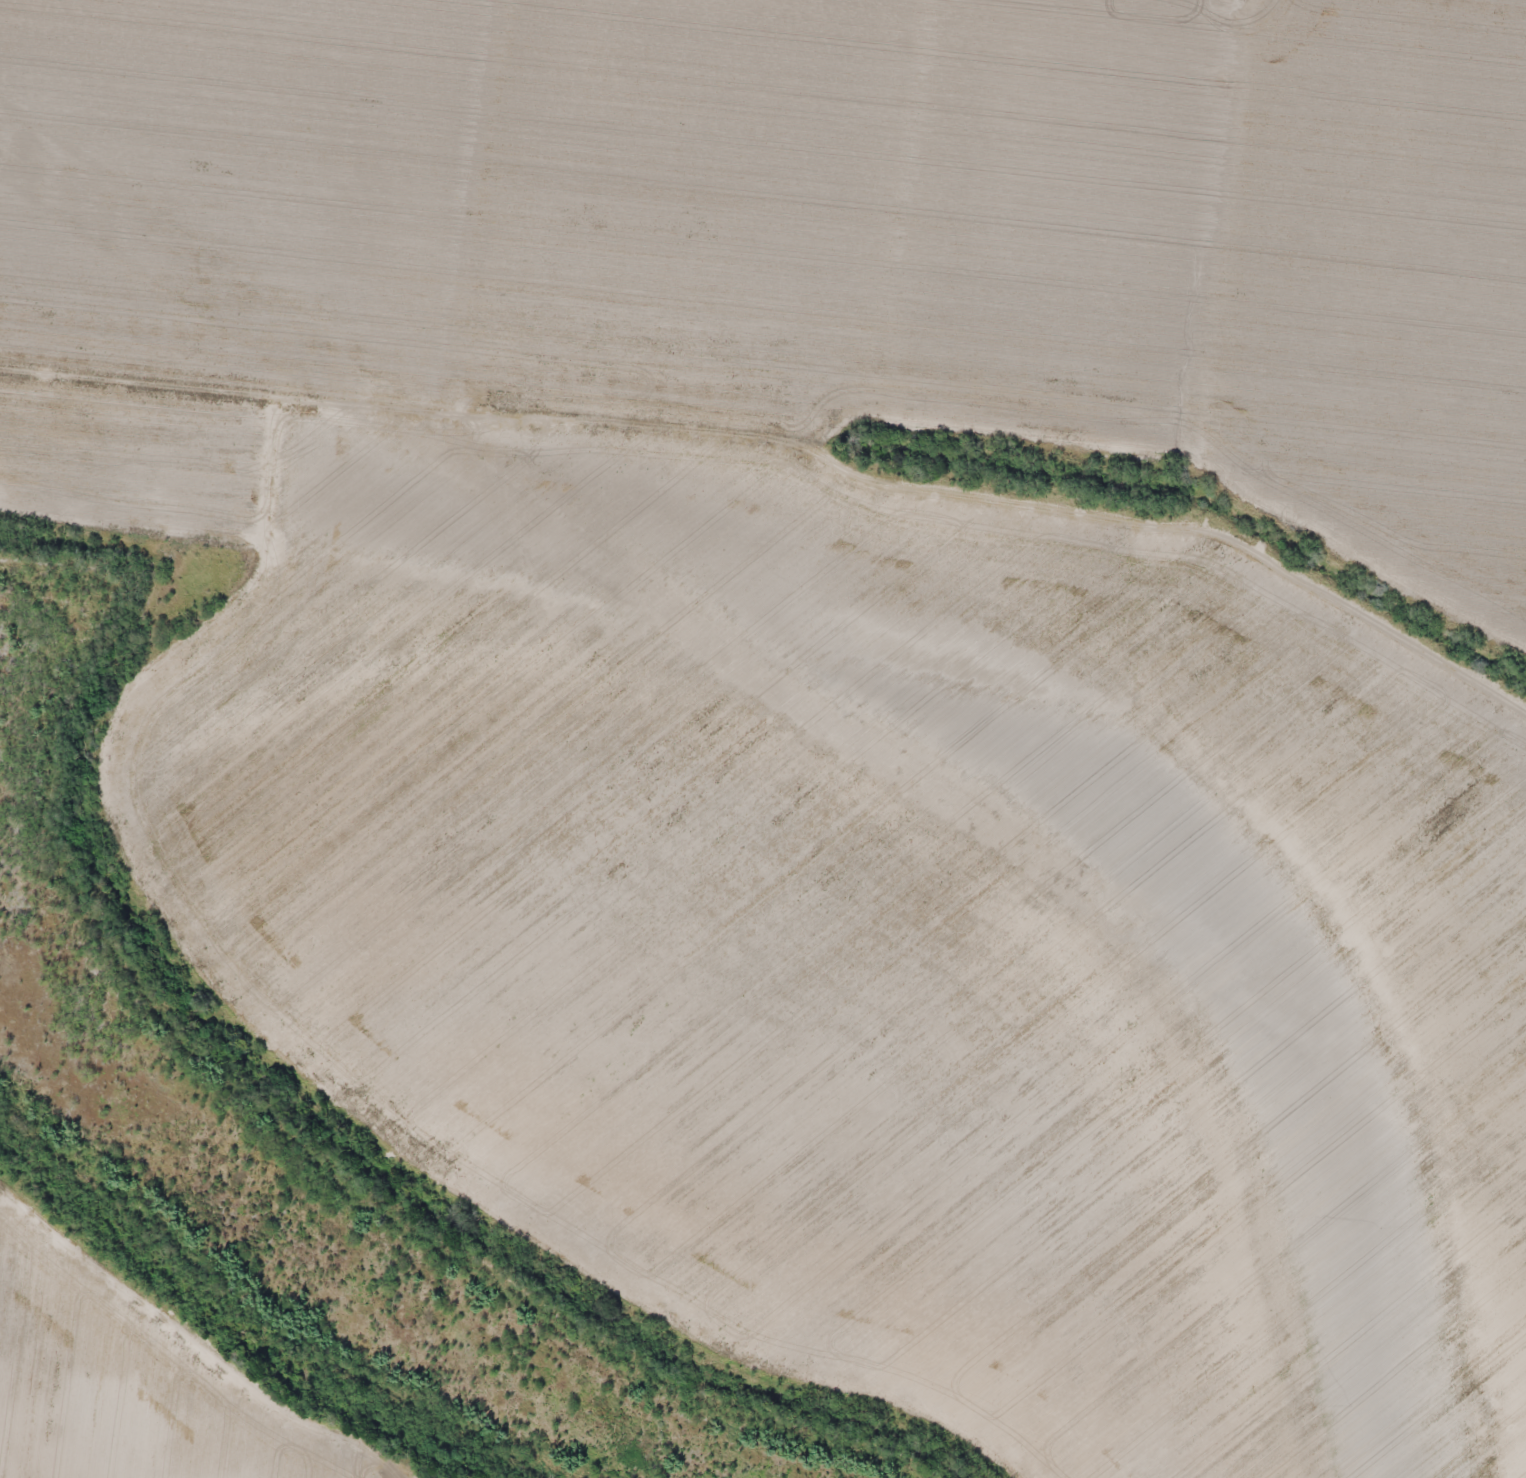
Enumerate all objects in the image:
river: (318, 1247)

